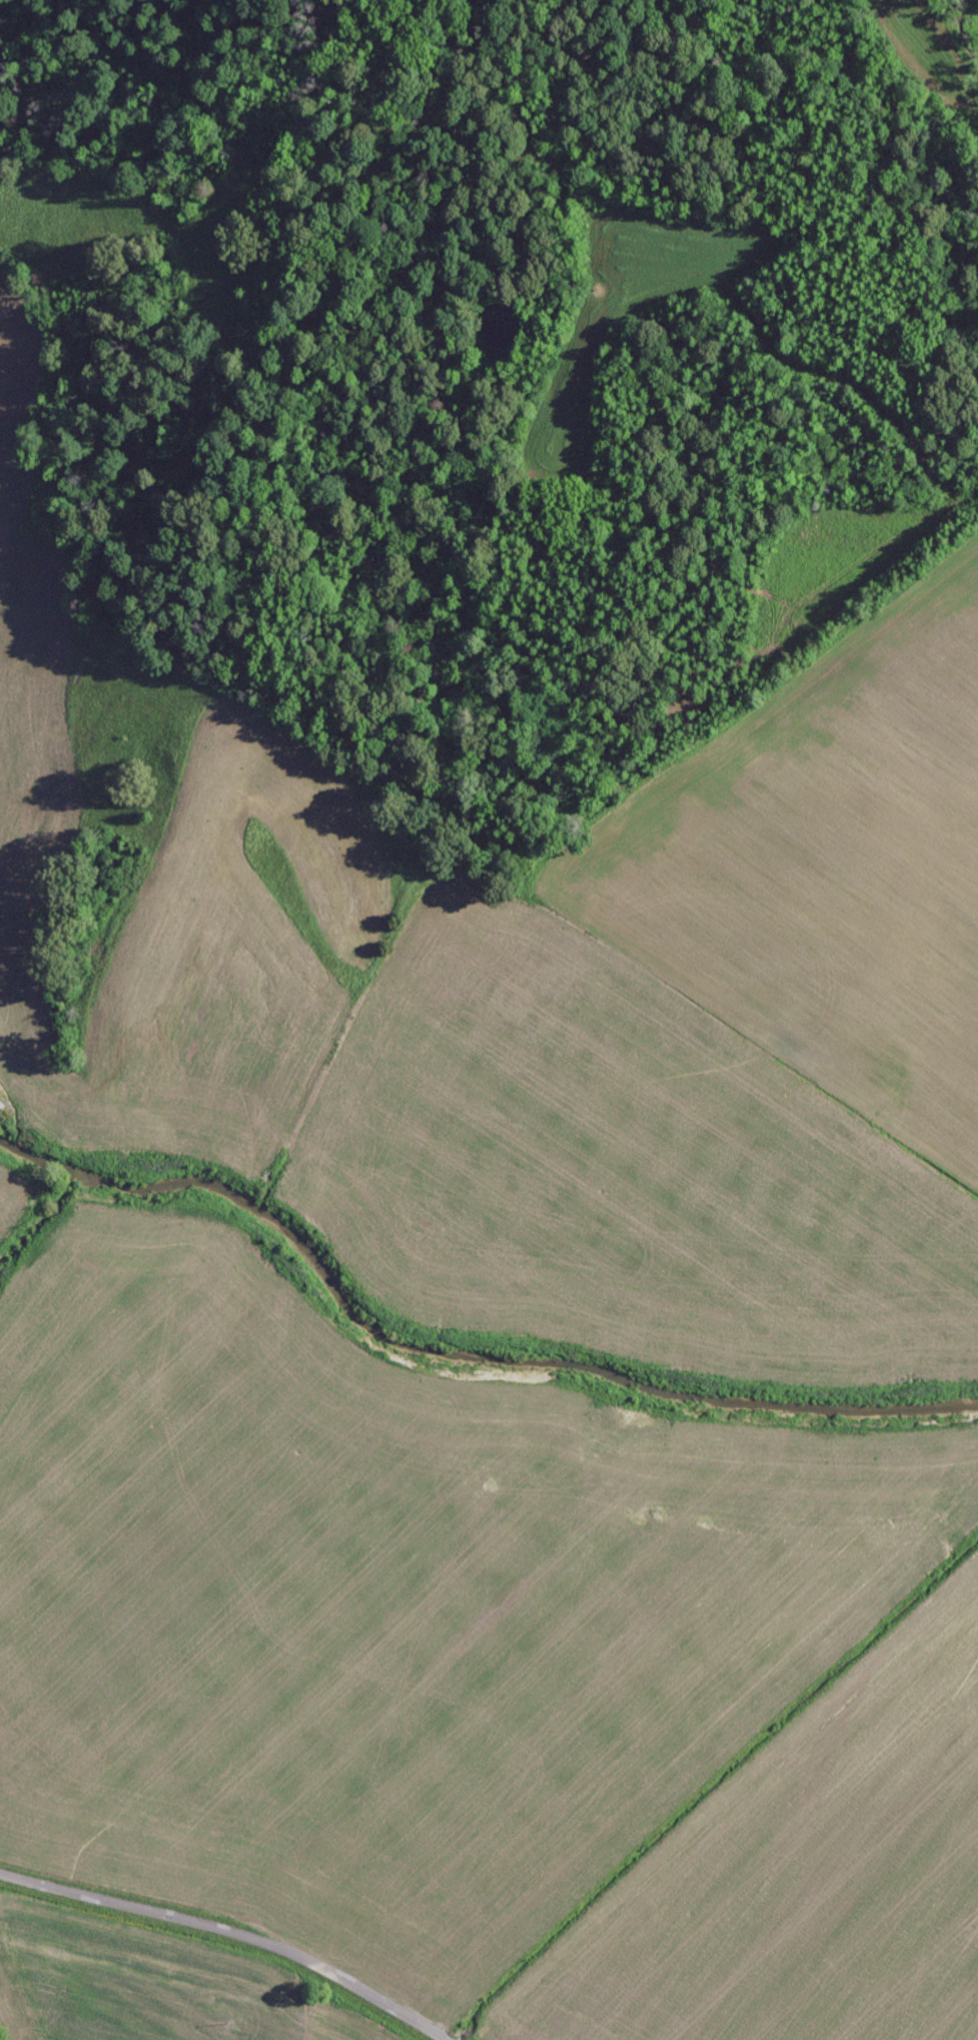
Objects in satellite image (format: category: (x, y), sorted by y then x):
road: (230, 1934)

